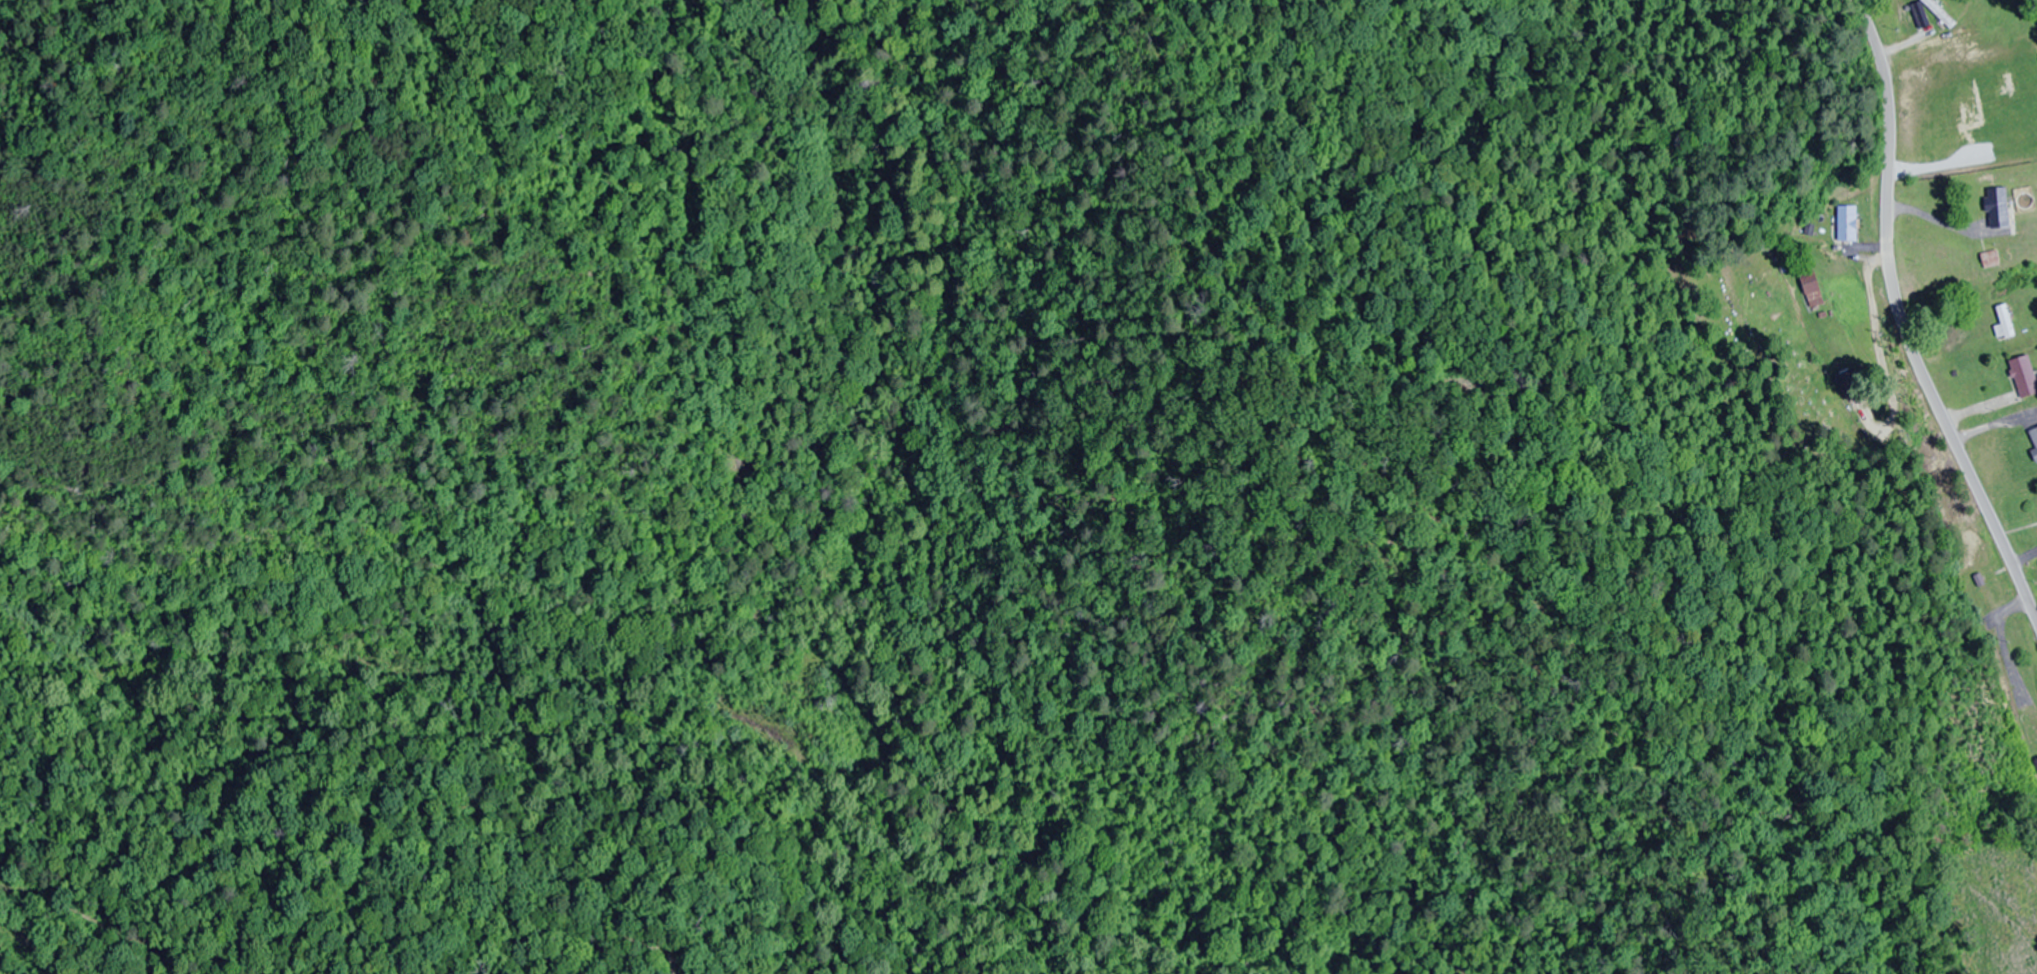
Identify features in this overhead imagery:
building: (1940, 13)
building: (1998, 208)
building: (1848, 223)
building: (1991, 259)
building: (1813, 289)
road: (1900, 322)
building: (2005, 322)
building: (2024, 376)
building: (1851, 383)
building: (2034, 435)
building: (2035, 454)
building: (2036, 761)

